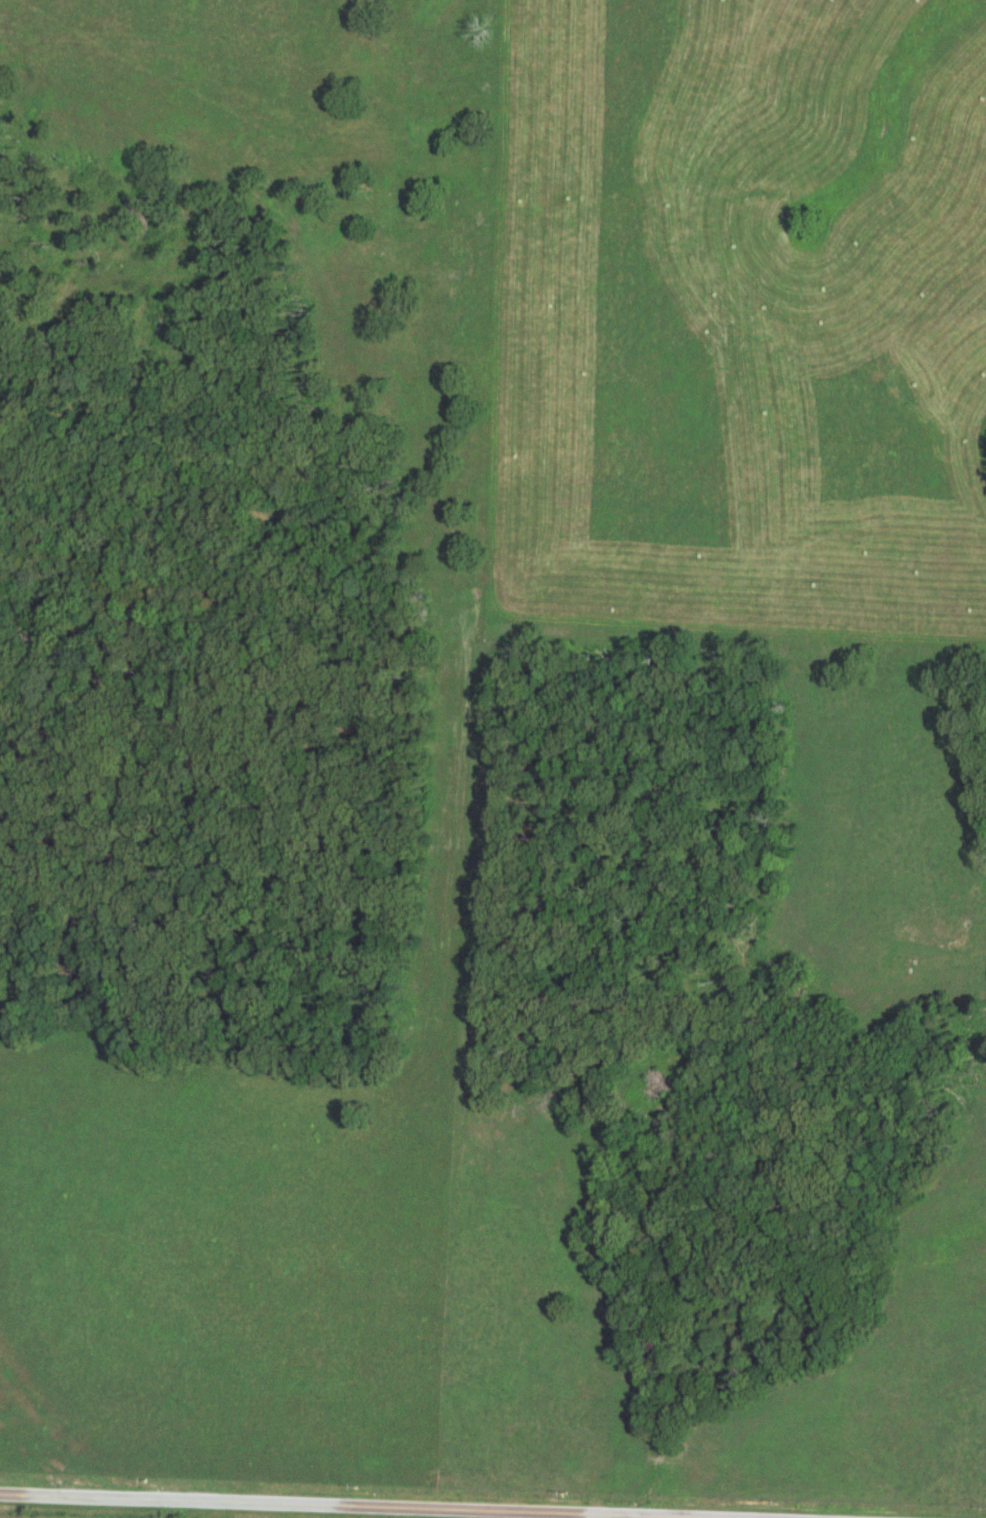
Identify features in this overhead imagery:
road: (387, 1502)

